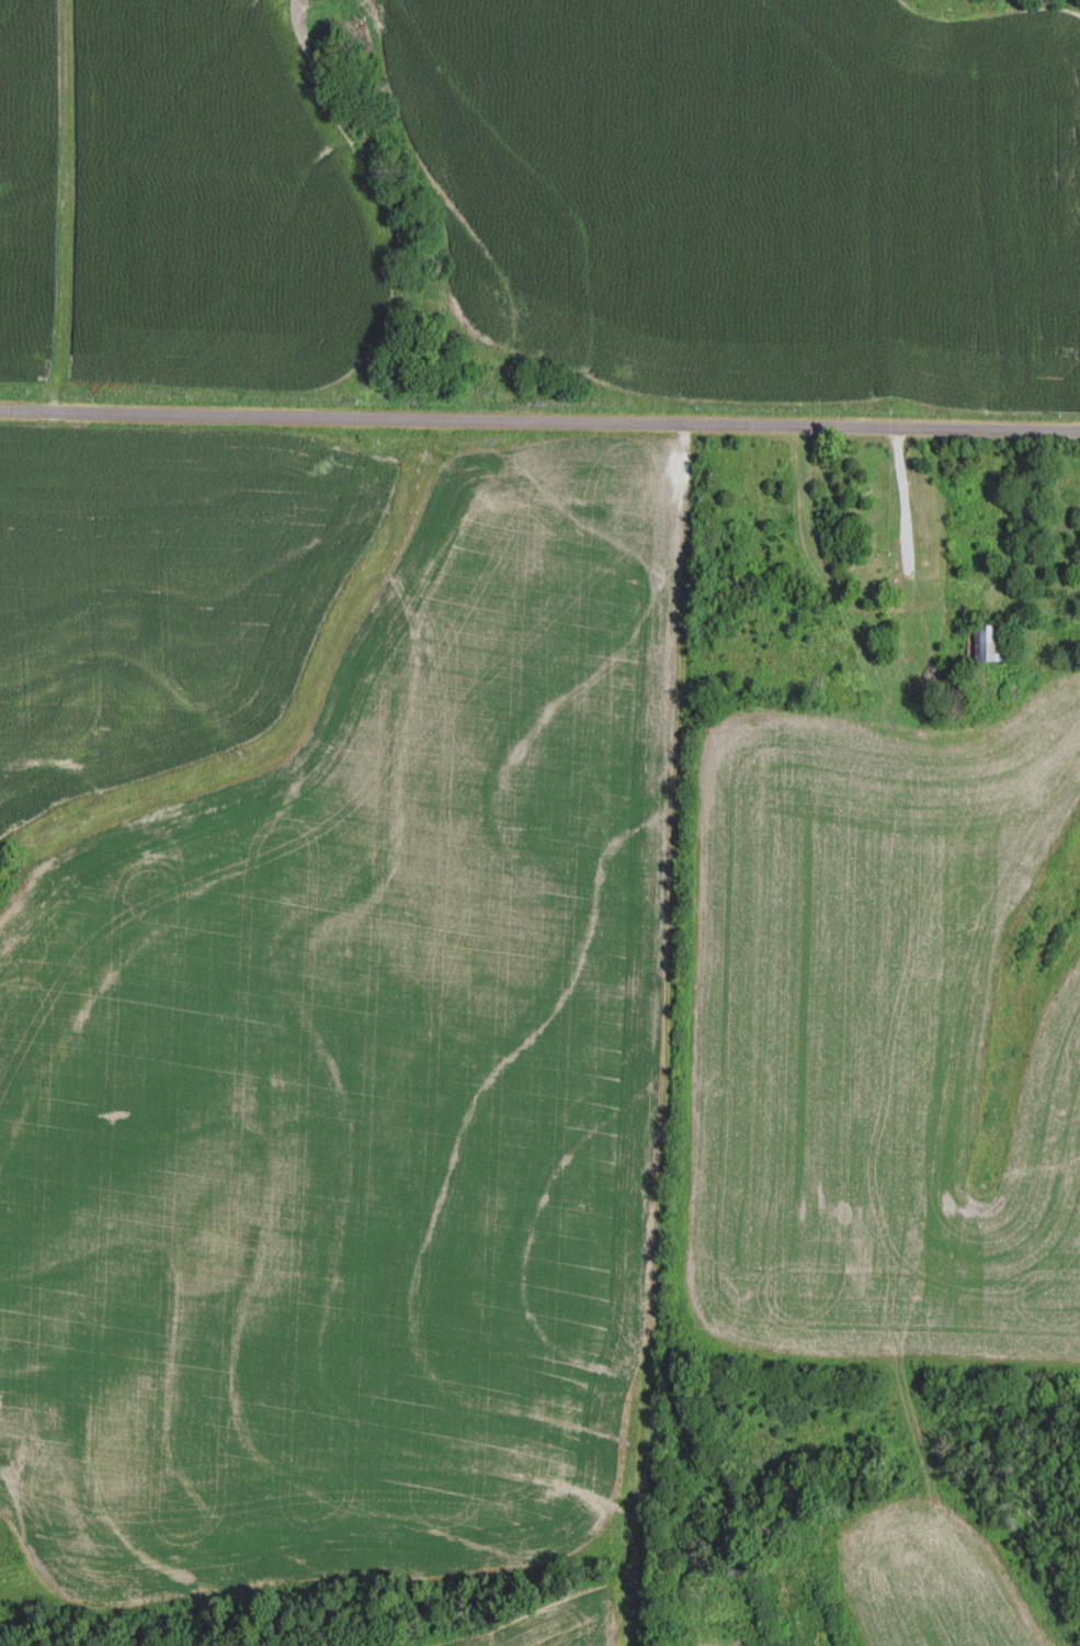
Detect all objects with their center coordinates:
road: (539, 419)
road: (911, 561)
building: (987, 641)

